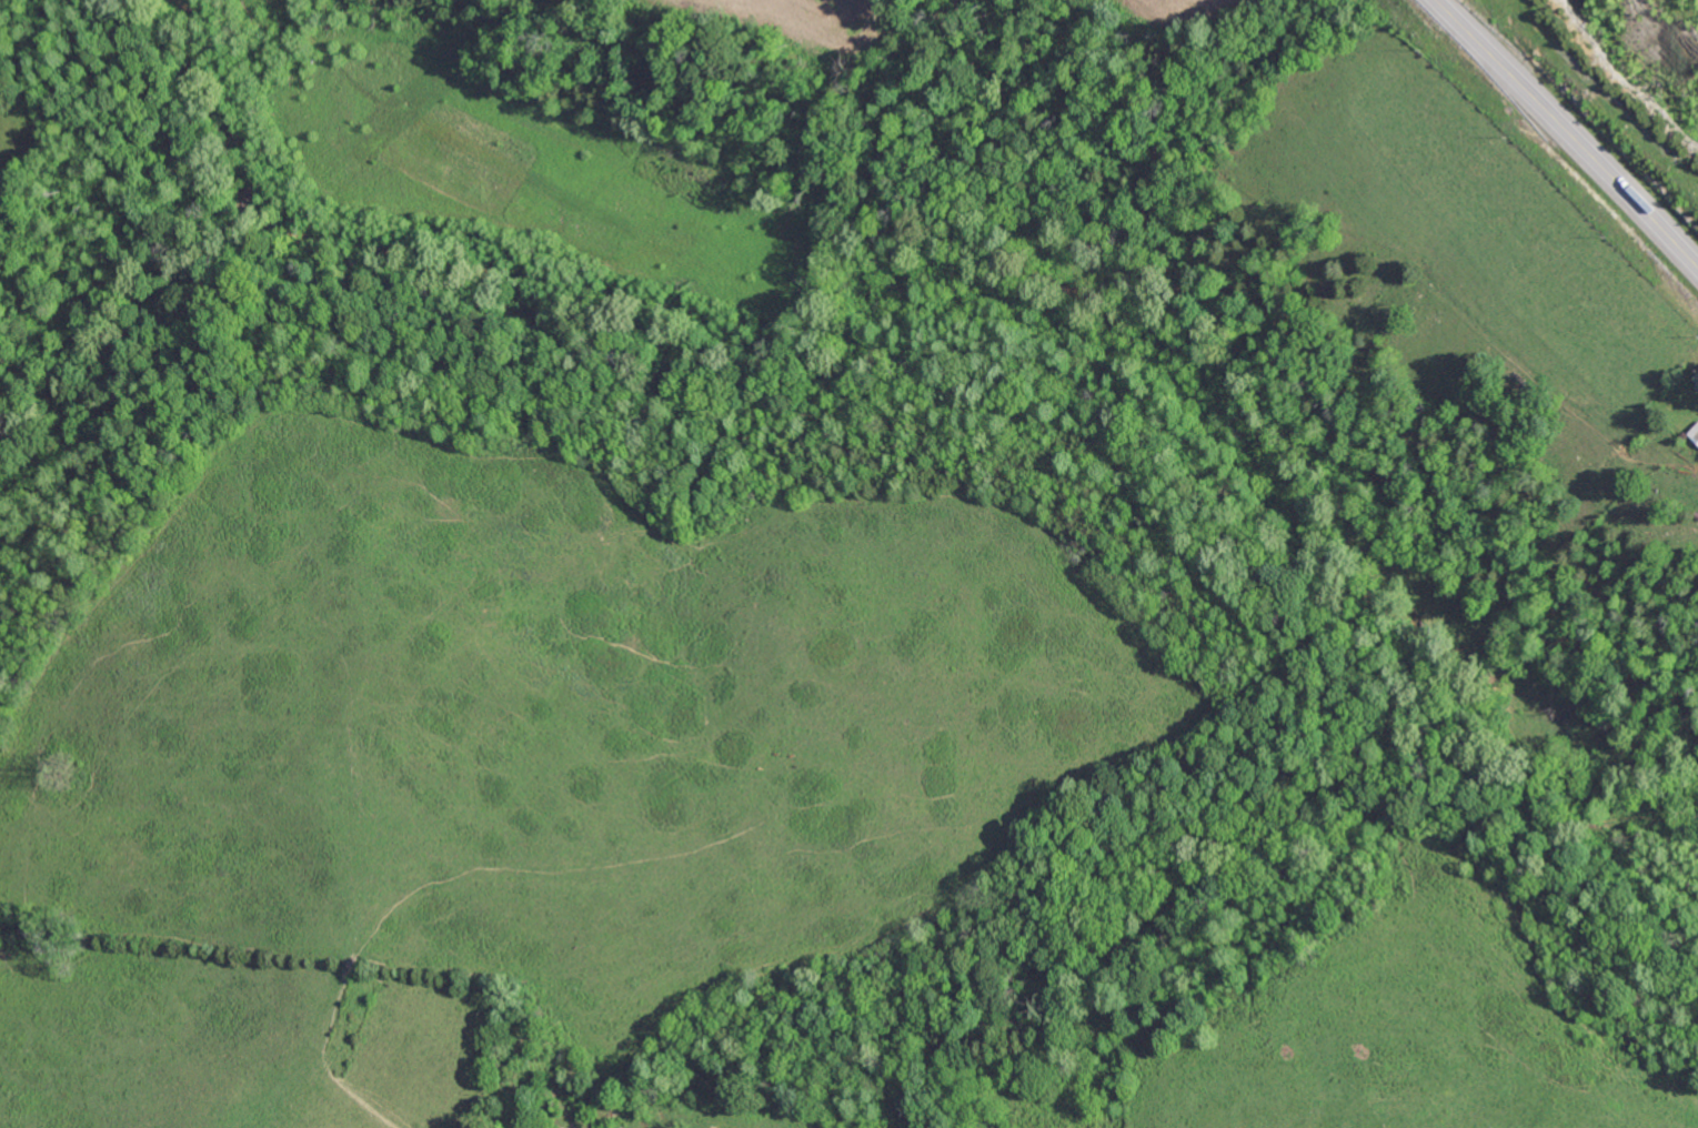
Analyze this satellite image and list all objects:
road: (1567, 135)

